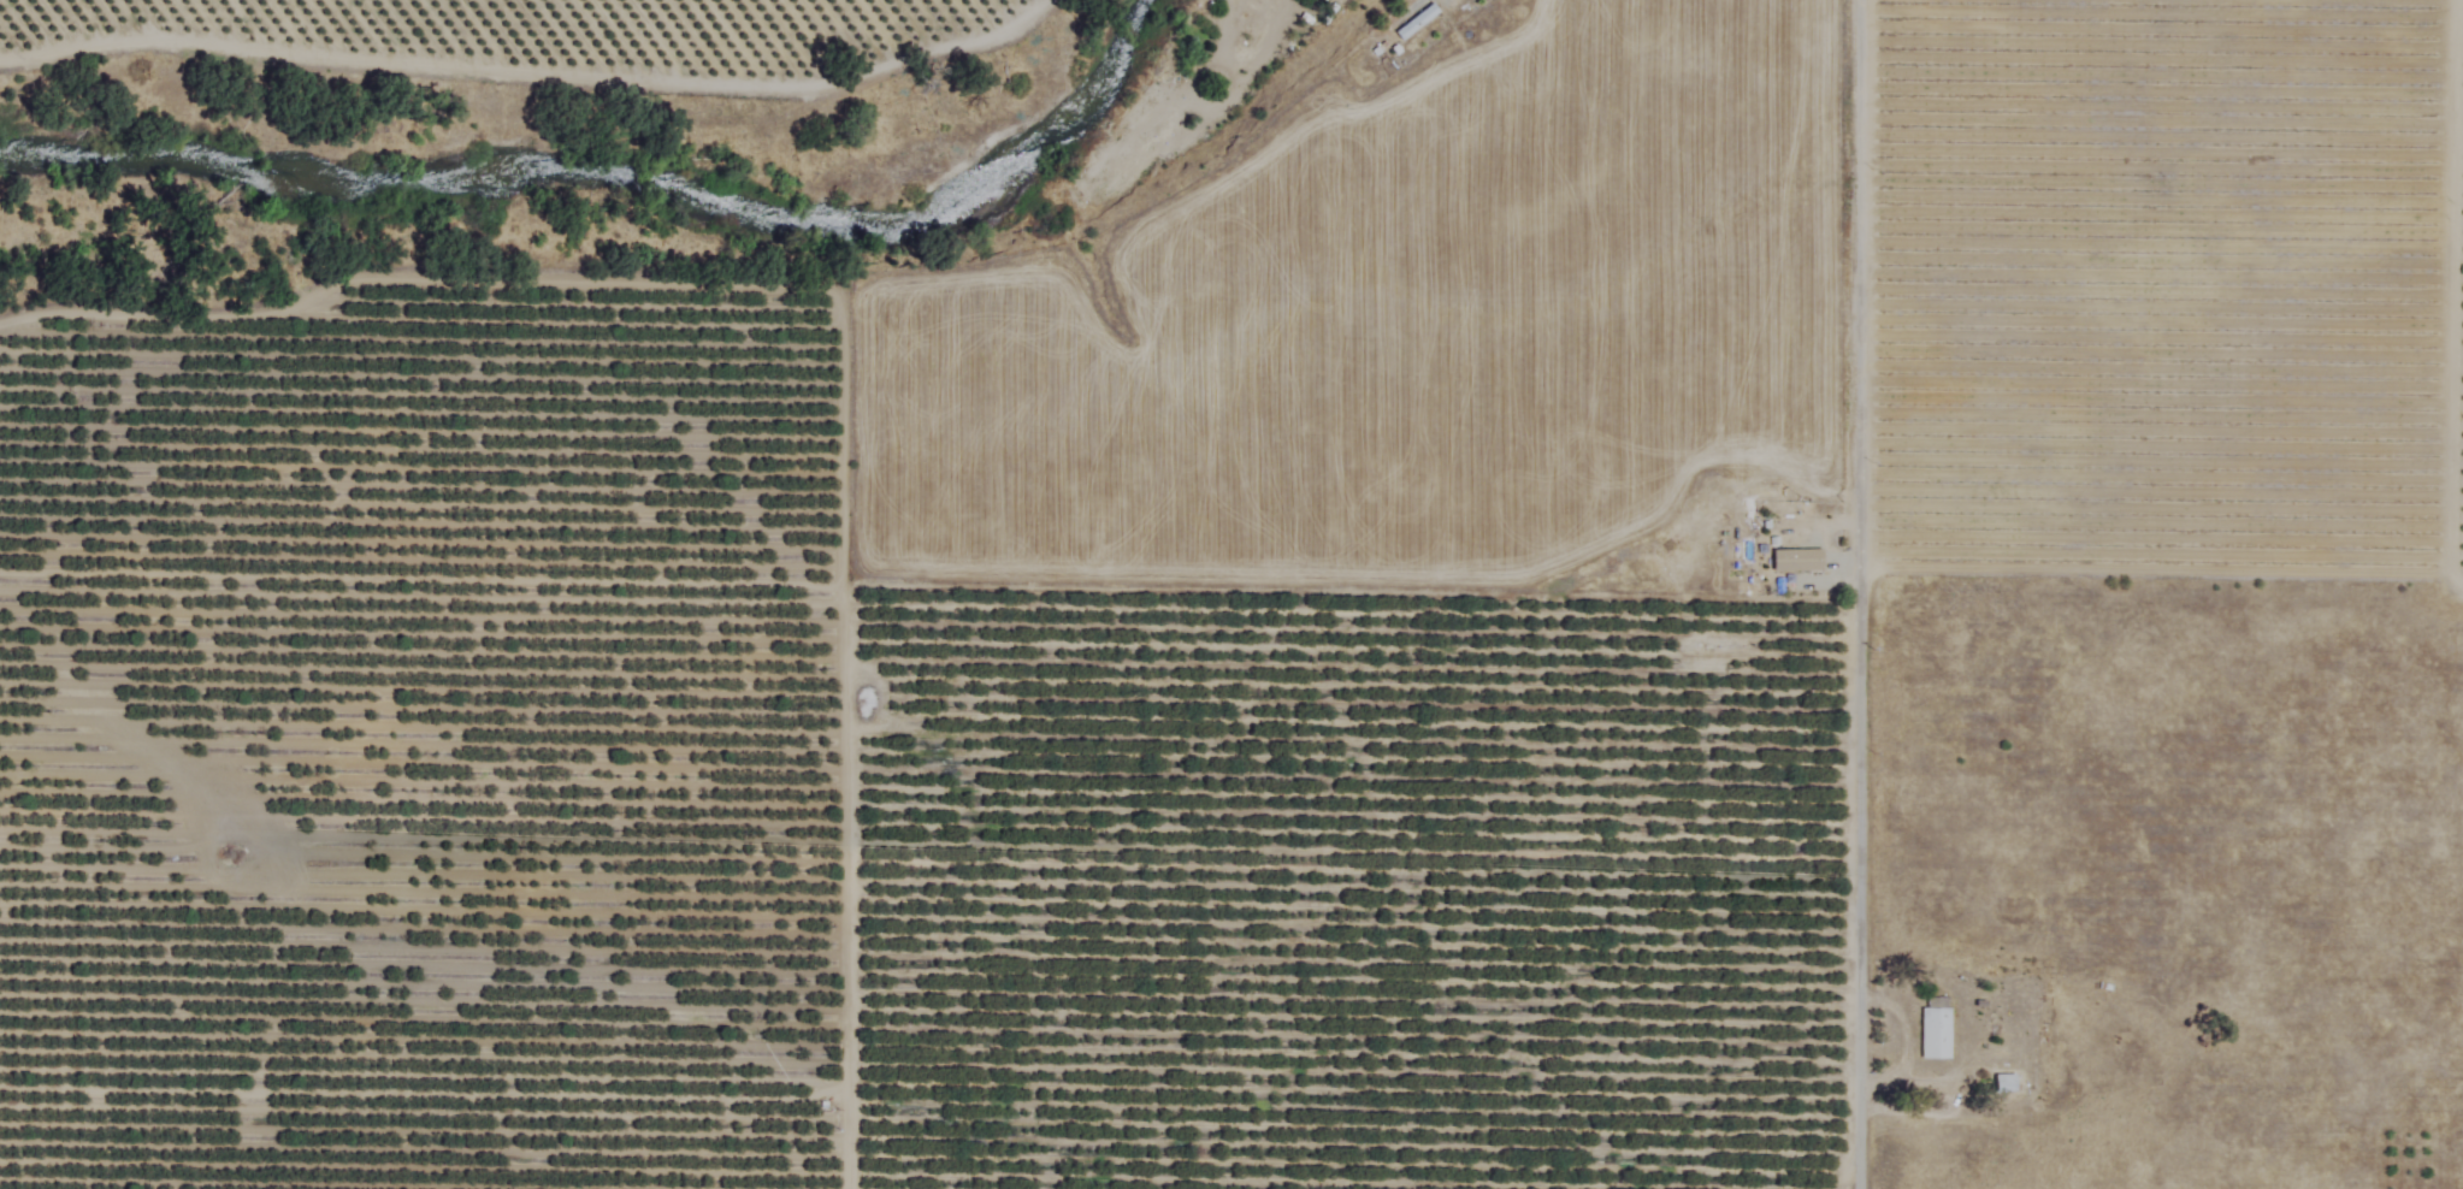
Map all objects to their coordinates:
crop: (2167, 289)
road: (1849, 593)
crop: (773, 692)
building: (1935, 1031)
road: (1908, 1042)
building: (2002, 1086)

